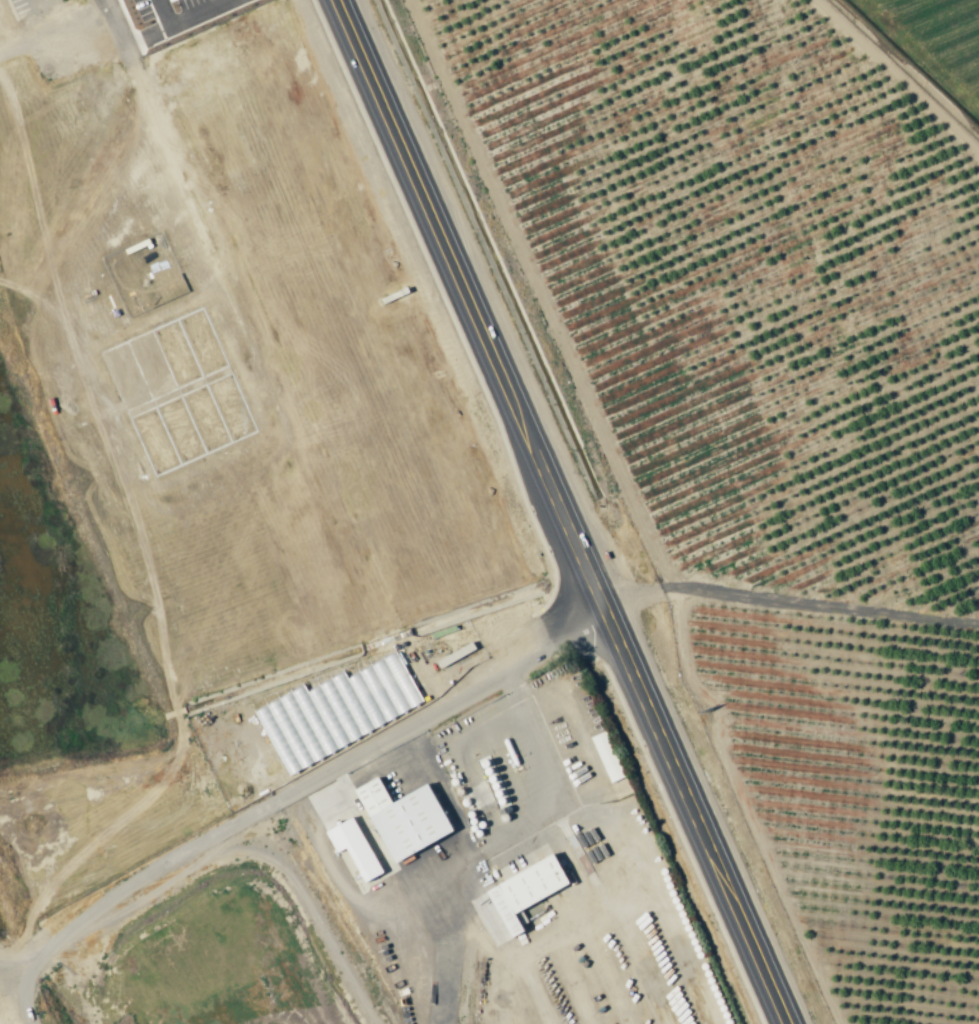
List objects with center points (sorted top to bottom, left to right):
road: (39, 2)
road: (433, 225)
road: (623, 654)
building: (340, 712)
building: (609, 757)
road: (296, 780)
building: (408, 819)
building: (357, 847)
building: (530, 892)
road: (749, 941)
road: (21, 989)

